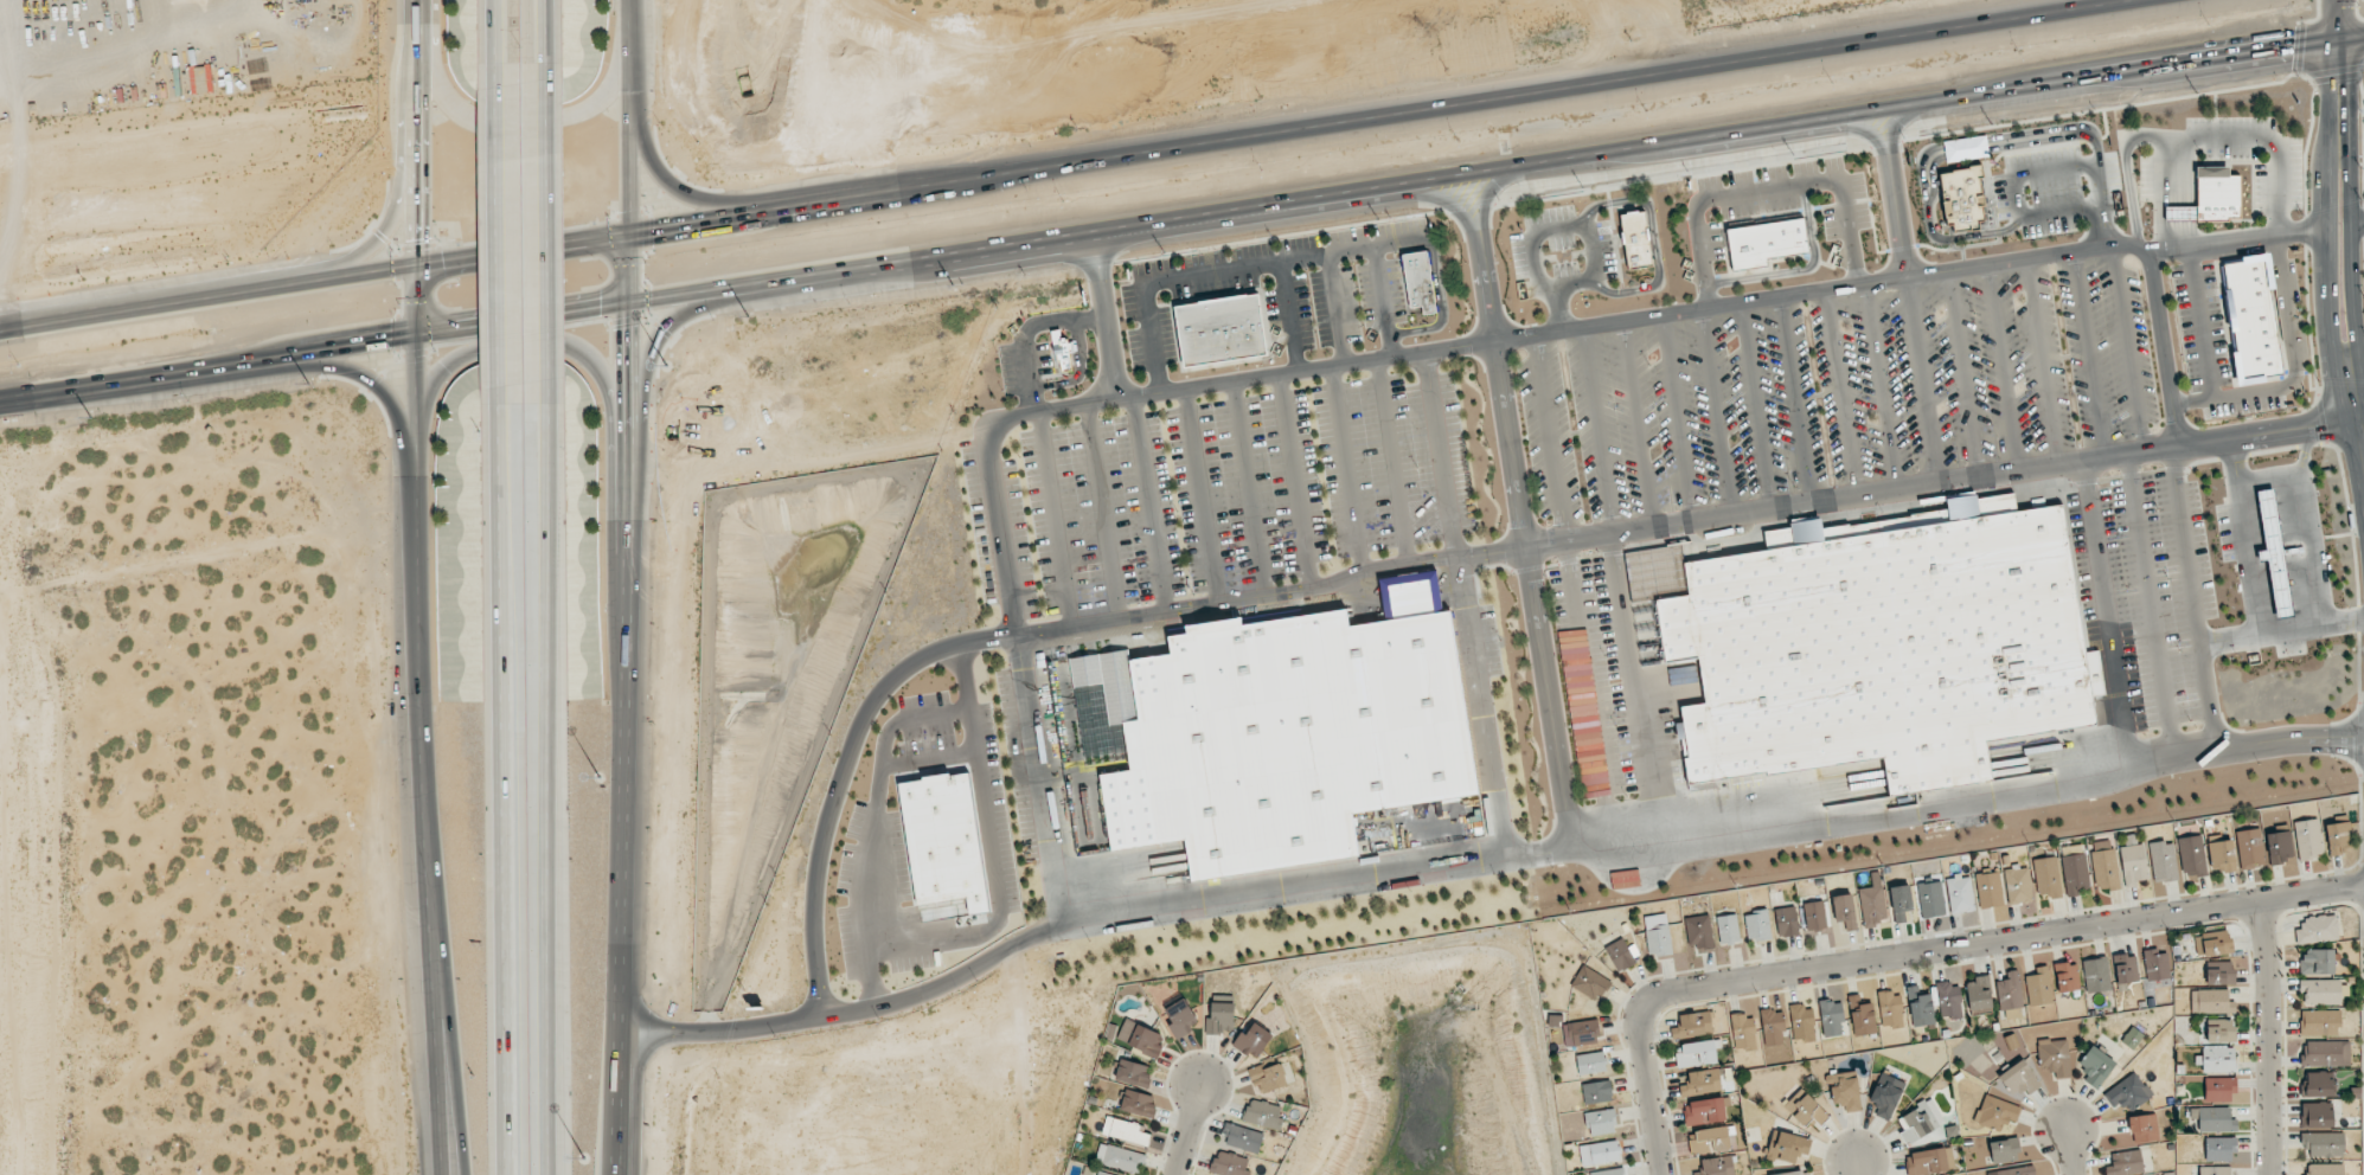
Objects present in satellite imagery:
road: (2339, 19)
road: (494, 33)
road: (545, 33)
road: (2352, 37)
traffic signals: (2286, 49)
traffic signals: (2339, 86)
road: (1521, 96)
road: (635, 117)
road: (534, 128)
road: (414, 134)
road: (2195, 139)
road: (1623, 154)
road: (2173, 168)
road: (1767, 190)
road: (686, 191)
road: (1895, 195)
building: (2205, 199)
building: (1962, 200)
road: (838, 203)
road: (2174, 224)
road: (393, 225)
road: (2351, 229)
traffic signals: (655, 232)
traffic signals: (418, 236)
road: (547, 237)
road: (495, 238)
road: (1653, 238)
building: (1633, 240)
building: (1767, 242)
road: (472, 259)
road: (2338, 261)
traffic signals: (448, 264)
road: (1228, 271)
building: (1415, 282)
road: (1542, 283)
road: (82, 295)
road: (1440, 301)
road: (1385, 302)
road: (1562, 309)
road: (1337, 310)
road: (602, 312)
traffic signals: (592, 314)
road: (1290, 317)
road: (1661, 317)
building: (2250, 319)
road: (1104, 320)
road: (2203, 323)
traffic signals: (629, 330)
building: (1216, 330)
traffic signals: (384, 346)
road: (2164, 348)
road: (2127, 349)
road: (2089, 355)
road: (648, 360)
road: (2042, 364)
road: (524, 366)
road: (2004, 370)
road: (2293, 371)
road: (1962, 377)
road: (149, 379)
road: (370, 380)
road: (1922, 383)
road: (1884, 389)
road: (1839, 396)
road: (1793, 403)
road: (1756, 409)
road: (1715, 416)
road: (1678, 422)
road: (1640, 428)
road: (1600, 432)
road: (1440, 458)
road: (1392, 467)
road: (1346, 474)
road: (2269, 479)
road: (1293, 482)
road: (1249, 489)
road: (1202, 496)
road: (1148, 505)
road: (1101, 513)
road: (1521, 513)
road: (1053, 520)
road: (2308, 525)
road: (1685, 527)
road: (1002, 533)
road: (416, 535)
road: (2246, 537)
road: (1574, 592)
road: (2196, 598)
road: (2151, 606)
road: (2107, 616)
road: (2283, 631)
building: (1879, 644)
road: (1634, 694)
building: (2097, 700)
road: (632, 702)
road: (1479, 711)
building: (1286, 734)
road: (928, 760)
road: (839, 775)
road: (552, 791)
road: (500, 792)
road: (878, 796)
building: (2338, 837)
building: (2308, 839)
road: (1717, 840)
building: (944, 845)
building: (2279, 847)
building: (2250, 848)
building: (2192, 855)
building: (2222, 856)
building: (2133, 861)
building: (2163, 861)
building: (2106, 871)
building: (2075, 873)
building: (2048, 877)
road: (994, 880)
building: (2018, 884)
building: (1988, 890)
building: (1960, 894)
building: (1930, 899)
building: (1902, 904)
building: (1872, 905)
building: (1844, 911)
building: (1814, 916)
building: (1787, 922)
building: (1757, 925)
building: (1728, 929)
building: (2317, 929)
building: (1699, 932)
building: (1658, 935)
building: (2216, 943)
road: (1918, 951)
building: (1620, 955)
road: (989, 957)
building: (2317, 962)
building: (2155, 964)
building: (2126, 968)
building: (2221, 974)
building: (2096, 975)
building: (2067, 976)
building: (1590, 983)
building: (2039, 985)
road: (428, 989)
road: (444, 989)
building: (2010, 991)
building: (2320, 991)
building: (1978, 994)
building: (1949, 1000)
building: (2211, 1001)
building: (1920, 1007)
building: (1890, 1009)
building: (1181, 1017)
building: (1219, 1017)
building: (1832, 1017)
building: (1863, 1019)
building: (1802, 1022)
building: (2319, 1022)
building: (1693, 1023)
building: (1773, 1028)
building: (2219, 1030)
building: (1743, 1032)
building: (1581, 1033)
road: (2268, 1036)
building: (1141, 1038)
building: (2132, 1038)
building: (1253, 1041)
building: (1697, 1053)
building: (2325, 1053)
building: (2055, 1057)
building: (2218, 1059)
building: (1591, 1062)
building: (2095, 1066)
building: (1133, 1073)
building: (1267, 1078)
building: (2019, 1078)
building: (1700, 1081)
building: (2318, 1084)
building: (2219, 1089)
building: (1845, 1090)
building: (1597, 1092)
building: (2127, 1092)
building: (1886, 1094)
building: (1138, 1103)
building: (1705, 1110)
building: (1806, 1111)
building: (1995, 1112)
building: (1263, 1113)
building: (2317, 1115)
building: (2214, 1119)
building: (1920, 1121)
building: (1601, 1122)
building: (2144, 1128)
road: (1186, 1130)
building: (1127, 1131)
building: (1242, 1138)
building: (1712, 1138)
building: (2324, 1144)
building: (1787, 1147)
building: (2219, 1149)
building: (2004, 1150)
building: (1600, 1152)
road: (2067, 1152)
building: (1120, 1158)
building: (1930, 1161)
building: (2126, 1163)
building: (1229, 1164)
building: (1716, 1166)
road: (1856, 1167)
building: (2325, 1169)
building: (2018, 1170)
building: (2215, 1170)
building: (1608, 1171)
road: (615, 1173)
road: (616, 1173)
building: (1795, 1173)
building: (1101, 1174)

